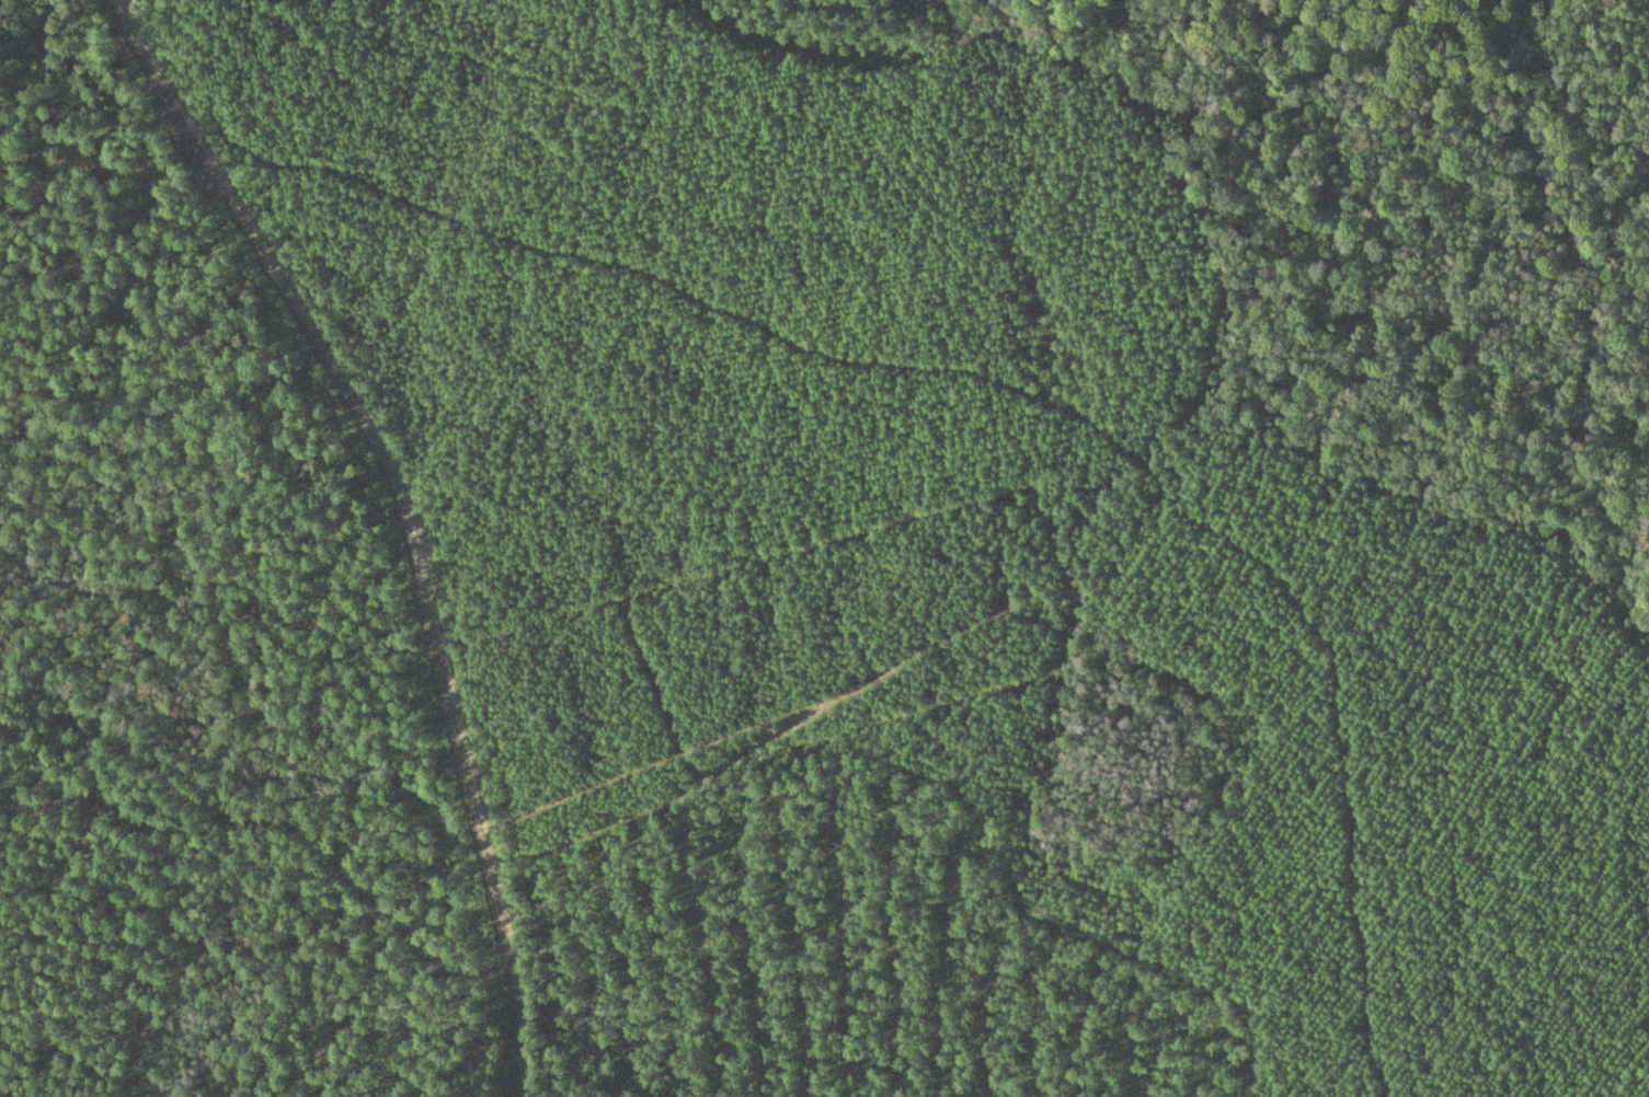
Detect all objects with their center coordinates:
road: (405, 530)

